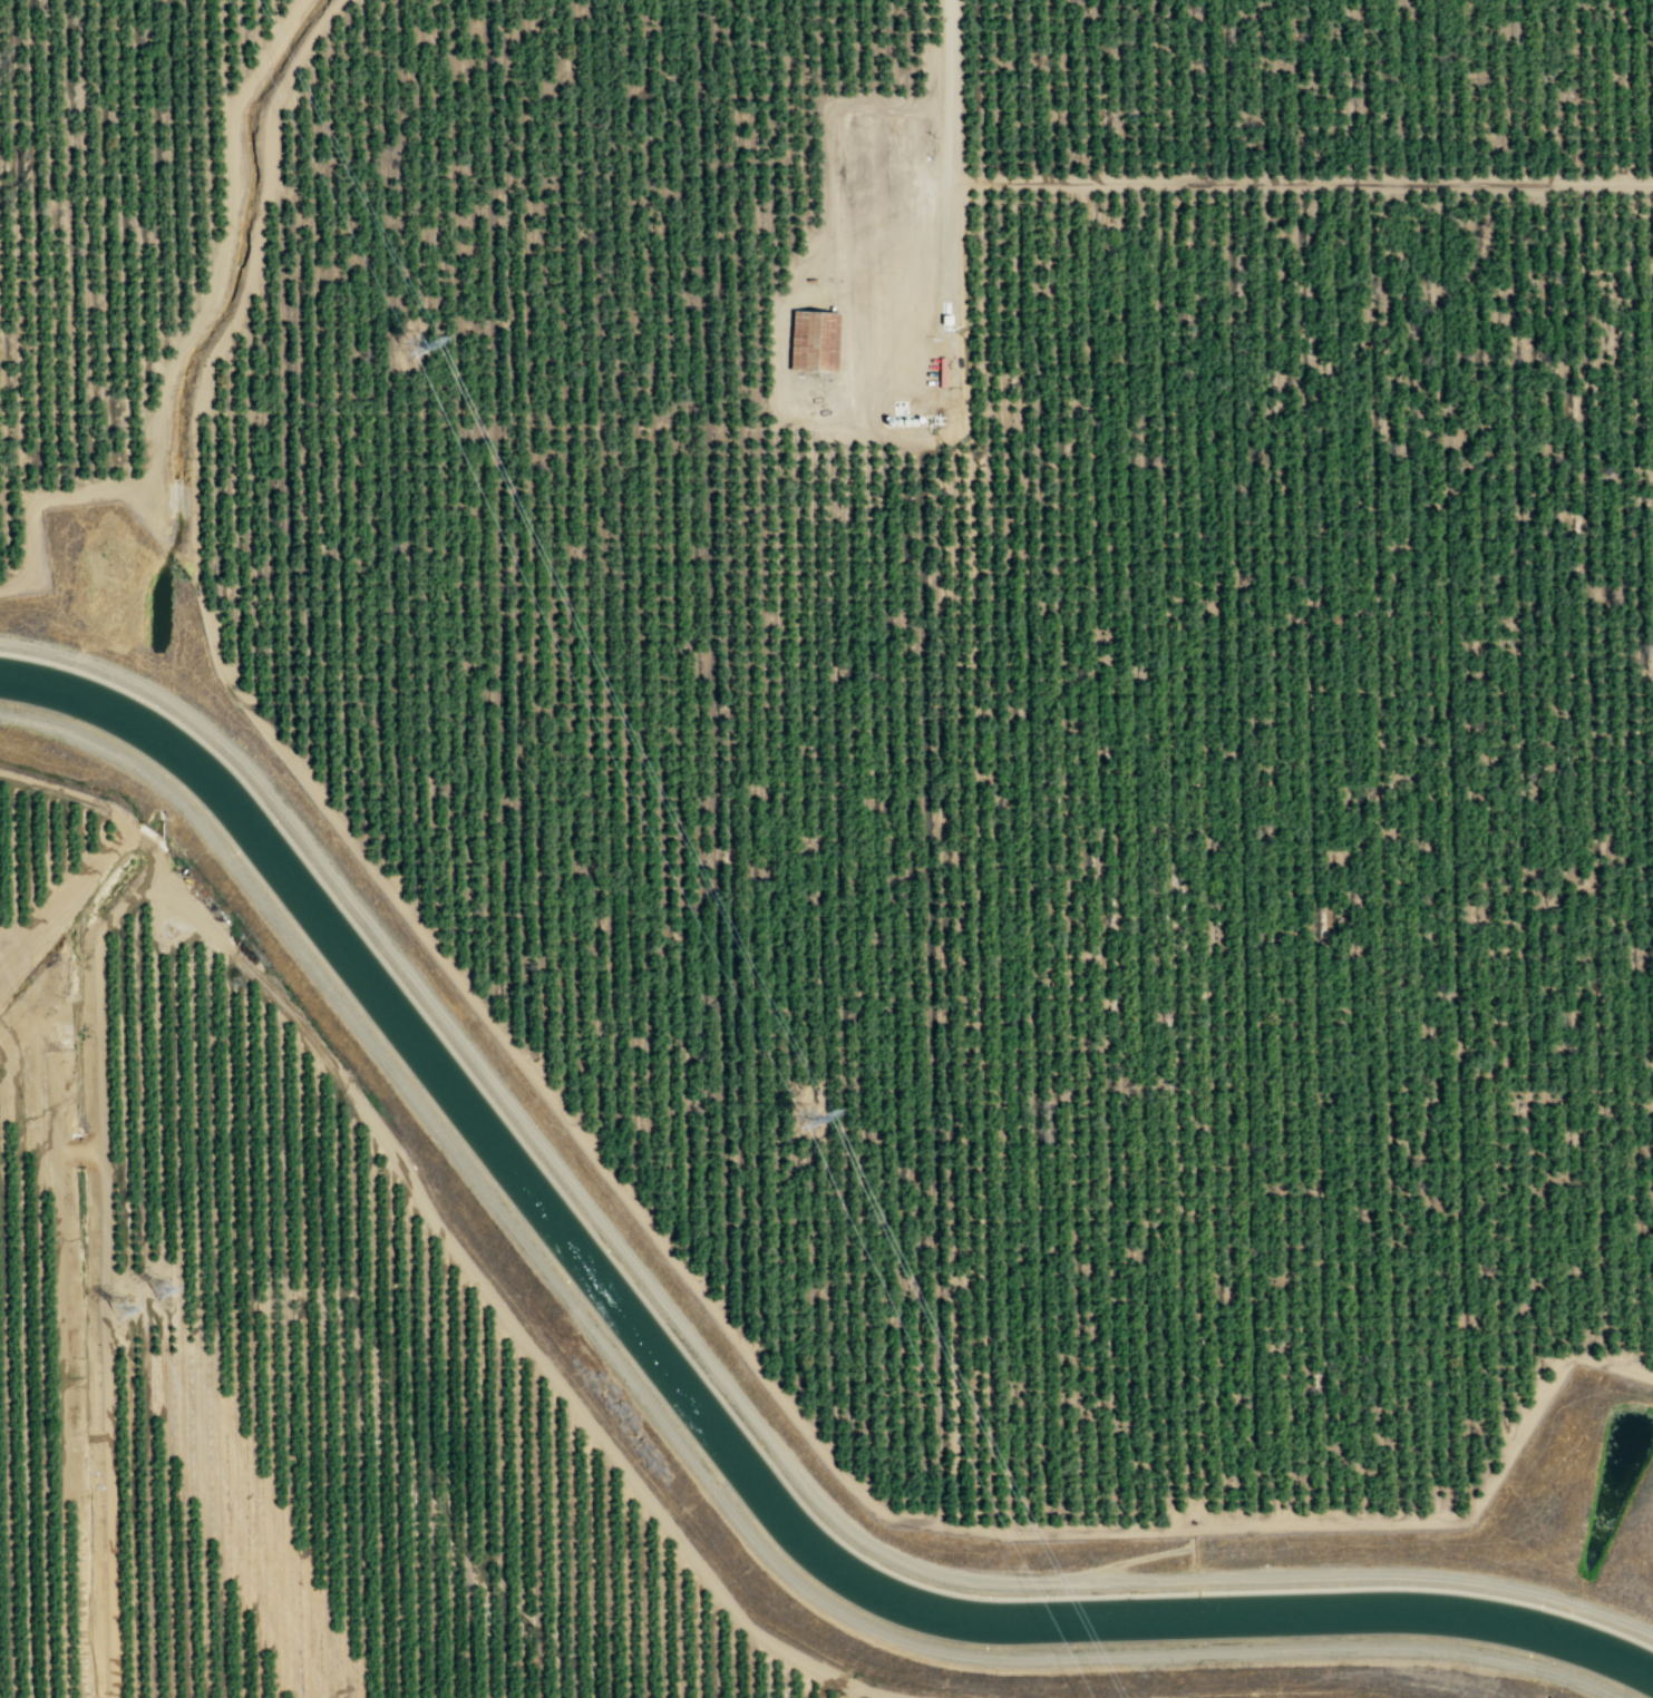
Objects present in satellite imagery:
road: (949, 144)
road: (1301, 182)
road: (184, 339)
building: (818, 341)
power tower: (420, 358)
road: (51, 1022)
power tower: (815, 1130)
road: (594, 1155)
power tower: (161, 1292)
power tower: (119, 1312)
road: (107, 1344)
road: (1363, 1574)

